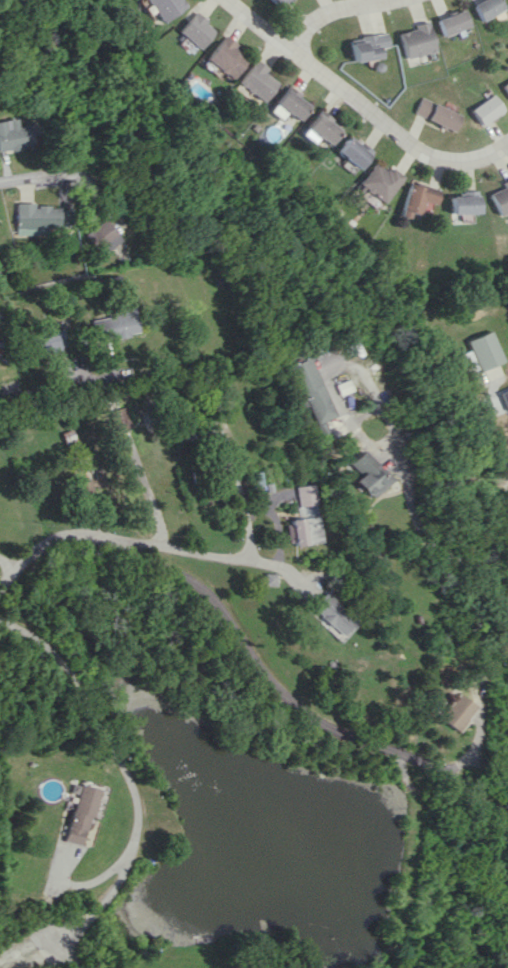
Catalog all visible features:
building: (159, 8)
building: (484, 8)
road: (331, 17)
building: (448, 22)
building: (193, 30)
building: (412, 40)
building: (364, 46)
building: (223, 57)
building: (252, 82)
building: (505, 87)
building: (283, 105)
road: (363, 106)
building: (485, 109)
building: (435, 113)
building: (316, 128)
building: (14, 135)
building: (347, 153)
road: (87, 178)
road: (15, 181)
building: (375, 181)
building: (416, 197)
building: (499, 197)
building: (460, 202)
building: (38, 218)
building: (104, 236)
building: (114, 324)
building: (46, 338)
building: (483, 350)
road: (56, 365)
road: (335, 367)
building: (319, 404)
road: (488, 433)
building: (368, 475)
building: (90, 481)
road: (146, 493)
building: (305, 494)
road: (275, 515)
building: (302, 530)
road: (433, 542)
road: (183, 549)
road: (3, 563)
building: (331, 616)
road: (248, 650)
building: (454, 712)
road: (130, 778)
building: (51, 789)
building: (80, 814)
road: (86, 881)
road: (33, 945)

